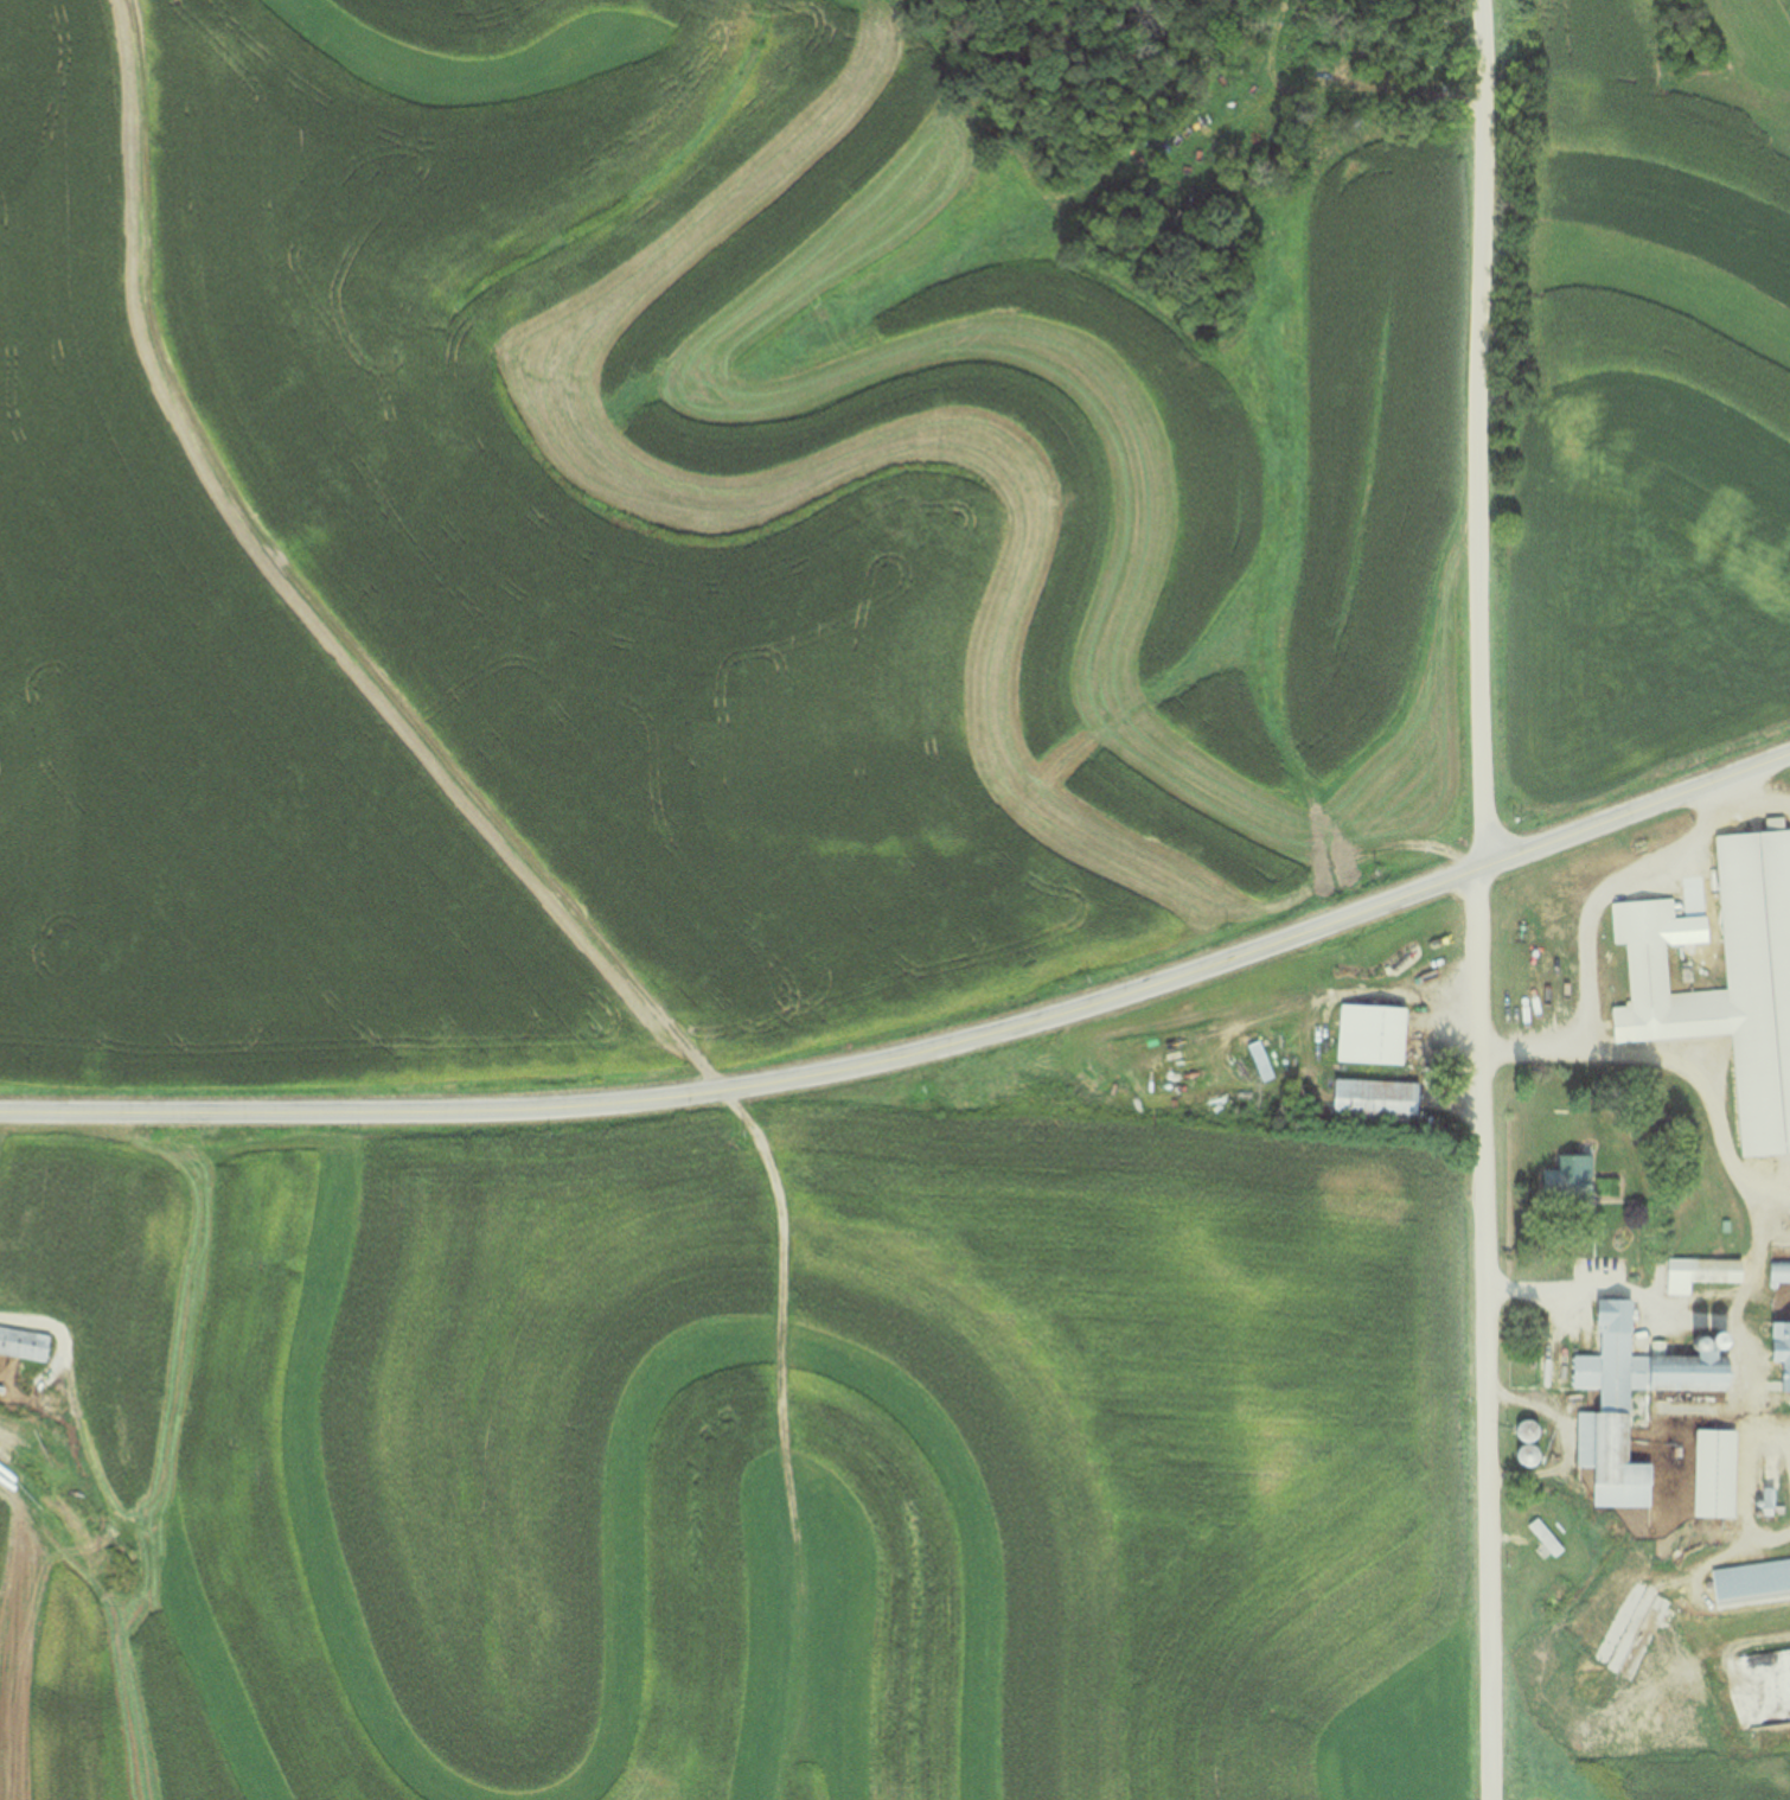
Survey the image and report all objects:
road: (1753, 802)
road: (1479, 899)
building: (1731, 976)
building: (1366, 1034)
road: (1529, 1042)
road: (918, 1054)
road: (1670, 1061)
building: (1568, 1175)
road: (1769, 1194)
building: (1708, 1270)
building: (1776, 1271)
road: (1610, 1285)
building: (27, 1345)
building: (1776, 1352)
building: (1540, 1373)
building: (1604, 1399)
building: (1519, 1430)
road: (1783, 1438)
building: (1521, 1455)
road: (1782, 1467)
building: (1718, 1474)
building: (1760, 1498)
building: (1541, 1537)
building: (1746, 1578)

